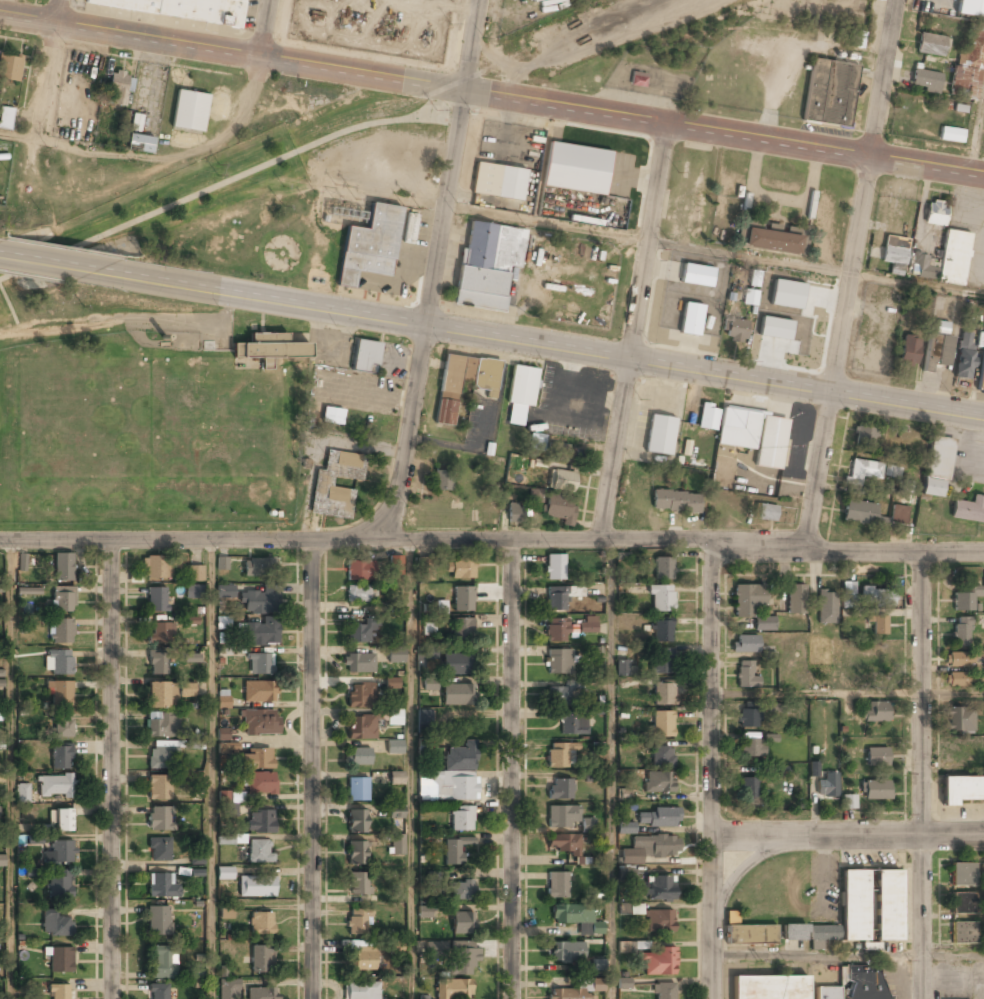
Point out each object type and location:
building: (971, 8)
building: (182, 9)
road: (266, 28)
building: (856, 39)
road: (470, 43)
building: (931, 45)
road: (231, 52)
building: (968, 66)
building: (10, 67)
road: (48, 71)
building: (638, 79)
building: (926, 80)
building: (118, 88)
building: (830, 93)
building: (189, 111)
building: (5, 116)
road: (723, 130)
building: (951, 134)
building: (139, 143)
building: (577, 169)
road: (232, 181)
building: (498, 181)
park: (240, 189)
road: (445, 207)
building: (935, 213)
building: (410, 227)
building: (771, 242)
building: (370, 246)
road: (714, 249)
building: (893, 253)
building: (954, 257)
road: (69, 264)
building: (920, 264)
building: (488, 265)
road: (851, 272)
building: (697, 275)
building: (793, 297)
building: (750, 298)
road: (283, 301)
building: (691, 319)
building: (775, 328)
road: (634, 330)
building: (737, 331)
building: (269, 348)
building: (908, 350)
building: (937, 350)
building: (366, 357)
building: (964, 359)
road: (706, 370)
building: (981, 374)
building: (463, 383)
building: (520, 393)
building: (333, 417)
building: (708, 418)
road: (406, 434)
building: (659, 435)
building: (863, 435)
building: (757, 438)
building: (537, 443)
building: (559, 452)
building: (939, 457)
building: (864, 471)
building: (563, 476)
building: (442, 481)
building: (323, 484)
building: (933, 487)
building: (535, 495)
building: (904, 497)
building: (675, 502)
building: (559, 509)
building: (970, 510)
building: (766, 512)
building: (515, 513)
building: (872, 514)
road: (492, 540)
building: (22, 562)
building: (222, 563)
building: (396, 566)
building: (63, 567)
building: (156, 567)
building: (259, 567)
building: (554, 567)
building: (425, 568)
building: (663, 568)
building: (461, 569)
building: (359, 571)
building: (194, 574)
building: (29, 591)
building: (225, 591)
building: (193, 592)
building: (848, 592)
building: (358, 595)
building: (560, 596)
building: (877, 596)
building: (965, 597)
building: (63, 598)
building: (661, 598)
building: (462, 599)
building: (157, 600)
building: (746, 600)
building: (796, 600)
building: (259, 601)
building: (441, 606)
building: (826, 608)
building: (223, 623)
building: (588, 624)
building: (764, 624)
building: (876, 625)
building: (429, 628)
building: (462, 629)
building: (556, 630)
building: (662, 630)
building: (61, 631)
building: (161, 634)
building: (358, 634)
building: (261, 635)
building: (960, 635)
building: (744, 644)
building: (426, 652)
building: (396, 655)
building: (191, 658)
building: (959, 660)
building: (558, 661)
building: (662, 661)
building: (58, 662)
building: (259, 663)
building: (157, 664)
building: (358, 664)
building: (456, 664)
building: (624, 669)
building: (983, 670)
building: (746, 674)
building: (1, 677)
building: (957, 679)
building: (392, 683)
building: (430, 684)
building: (186, 689)
building: (259, 691)
building: (60, 693)
road: (849, 693)
building: (456, 694)
building: (663, 694)
building: (160, 695)
building: (360, 696)
building: (558, 696)
building: (223, 698)
building: (777, 707)
building: (876, 712)
building: (423, 717)
building: (747, 717)
building: (394, 718)
building: (959, 720)
building: (260, 722)
building: (573, 723)
building: (160, 724)
building: (662, 724)
building: (62, 727)
building: (361, 727)
building: (223, 733)
building: (229, 747)
building: (394, 748)
building: (751, 748)
building: (559, 755)
building: (61, 756)
building: (661, 756)
building: (877, 756)
building: (358, 757)
building: (461, 757)
building: (162, 758)
building: (257, 759)
road: (512, 769)
road: (611, 769)
road: (112, 770)
road: (210, 770)
road: (311, 770)
road: (410, 770)
road: (714, 770)
road: (11, 771)
building: (590, 775)
building: (396, 777)
road: (925, 778)
building: (658, 782)
building: (261, 784)
building: (827, 784)
building: (54, 786)
building: (448, 787)
building: (159, 788)
building: (748, 788)
building: (358, 789)
building: (560, 789)
building: (875, 790)
building: (962, 790)
building: (22, 793)
building: (848, 802)
building: (229, 803)
building: (563, 816)
building: (159, 818)
building: (658, 818)
building: (461, 819)
building: (63, 820)
building: (260, 822)
building: (357, 822)
building: (589, 825)
building: (626, 828)
road: (849, 834)
building: (225, 840)
building: (563, 844)
building: (397, 845)
building: (655, 846)
building: (159, 849)
building: (455, 850)
building: (259, 852)
building: (59, 853)
building: (356, 854)
building: (197, 859)
building: (2, 860)
building: (225, 873)
building: (963, 873)
building: (61, 883)
building: (358, 884)
building: (161, 885)
building: (256, 886)
building: (557, 886)
building: (660, 888)
building: (460, 891)
building: (964, 903)
building: (887, 905)
building: (631, 909)
building: (227, 911)
building: (424, 911)
building: (846, 912)
building: (575, 917)
building: (732, 917)
building: (159, 920)
building: (659, 920)
building: (357, 922)
building: (261, 923)
building: (57, 924)
building: (462, 924)
building: (794, 933)
building: (963, 933)
building: (751, 935)
building: (627, 947)
building: (435, 948)
building: (566, 952)
road: (848, 955)
building: (261, 959)
building: (462, 959)
building: (61, 960)
building: (361, 961)
building: (659, 961)
building: (162, 962)
building: (597, 965)
building: (194, 970)
building: (864, 982)
building: (769, 987)
building: (229, 988)
building: (453, 989)
building: (664, 990)
building: (60, 991)
building: (159, 991)
building: (361, 991)
building: (261, 993)
building: (827, 993)
building: (572, 994)
building: (29, 997)
building: (423, 997)

